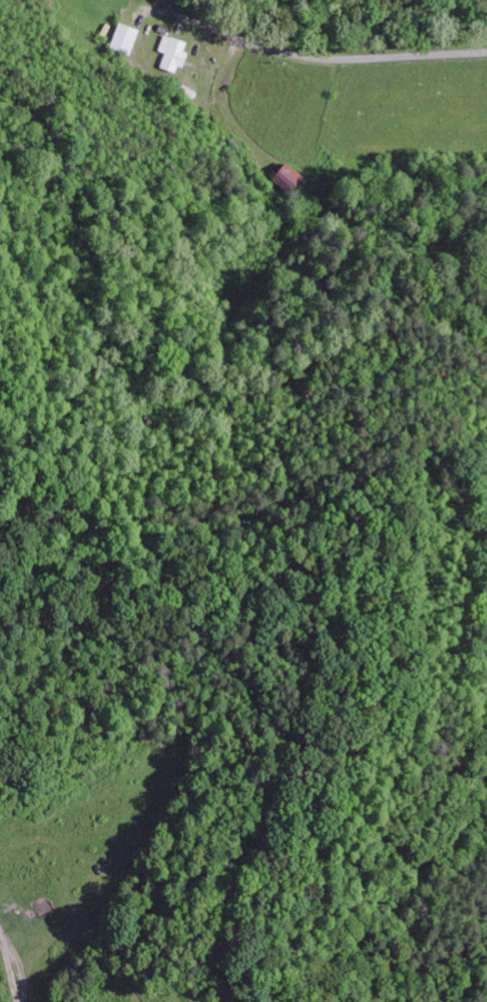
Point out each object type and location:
building: (125, 38)
building: (173, 53)
road: (374, 57)

